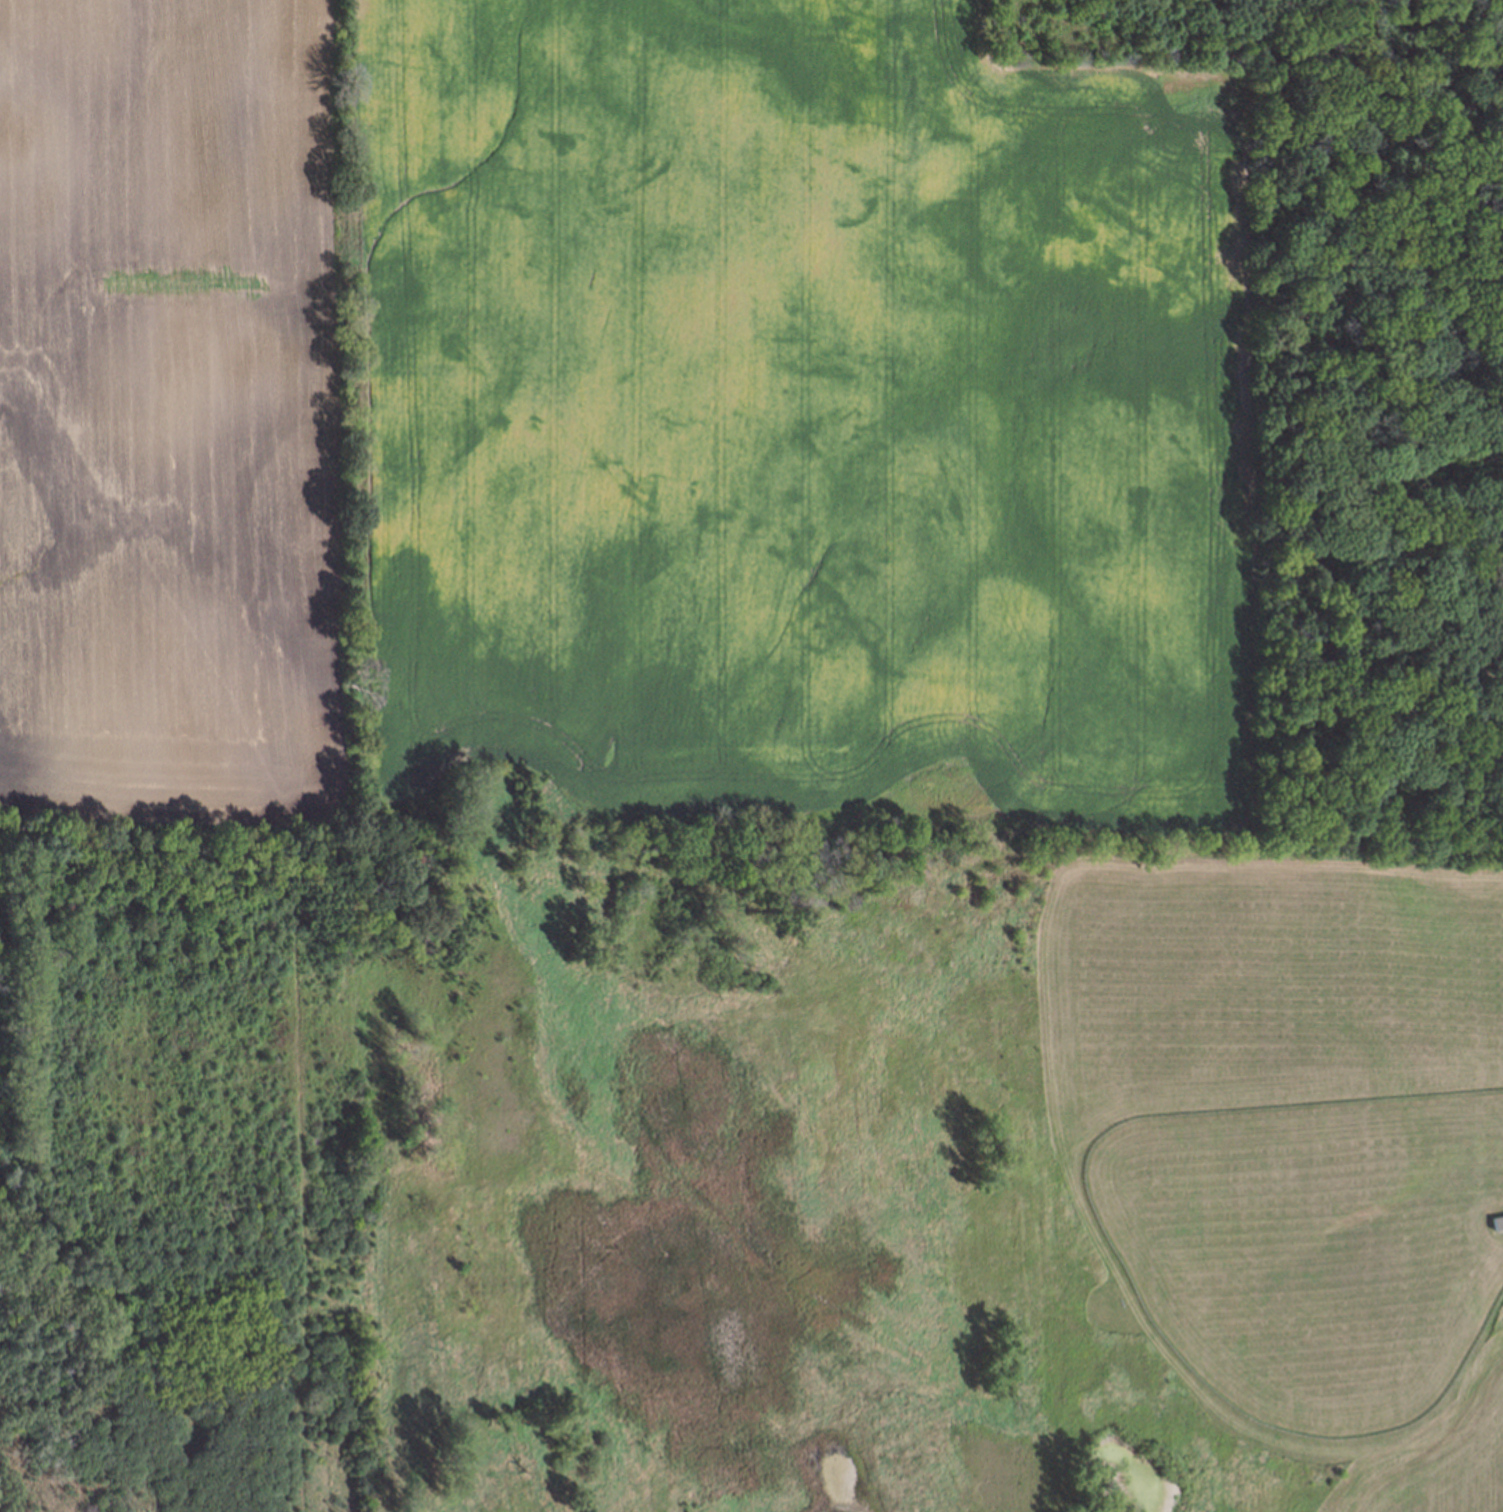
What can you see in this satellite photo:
road: (1348, 324)
park: (1377, 429)
building: (1496, 1220)

